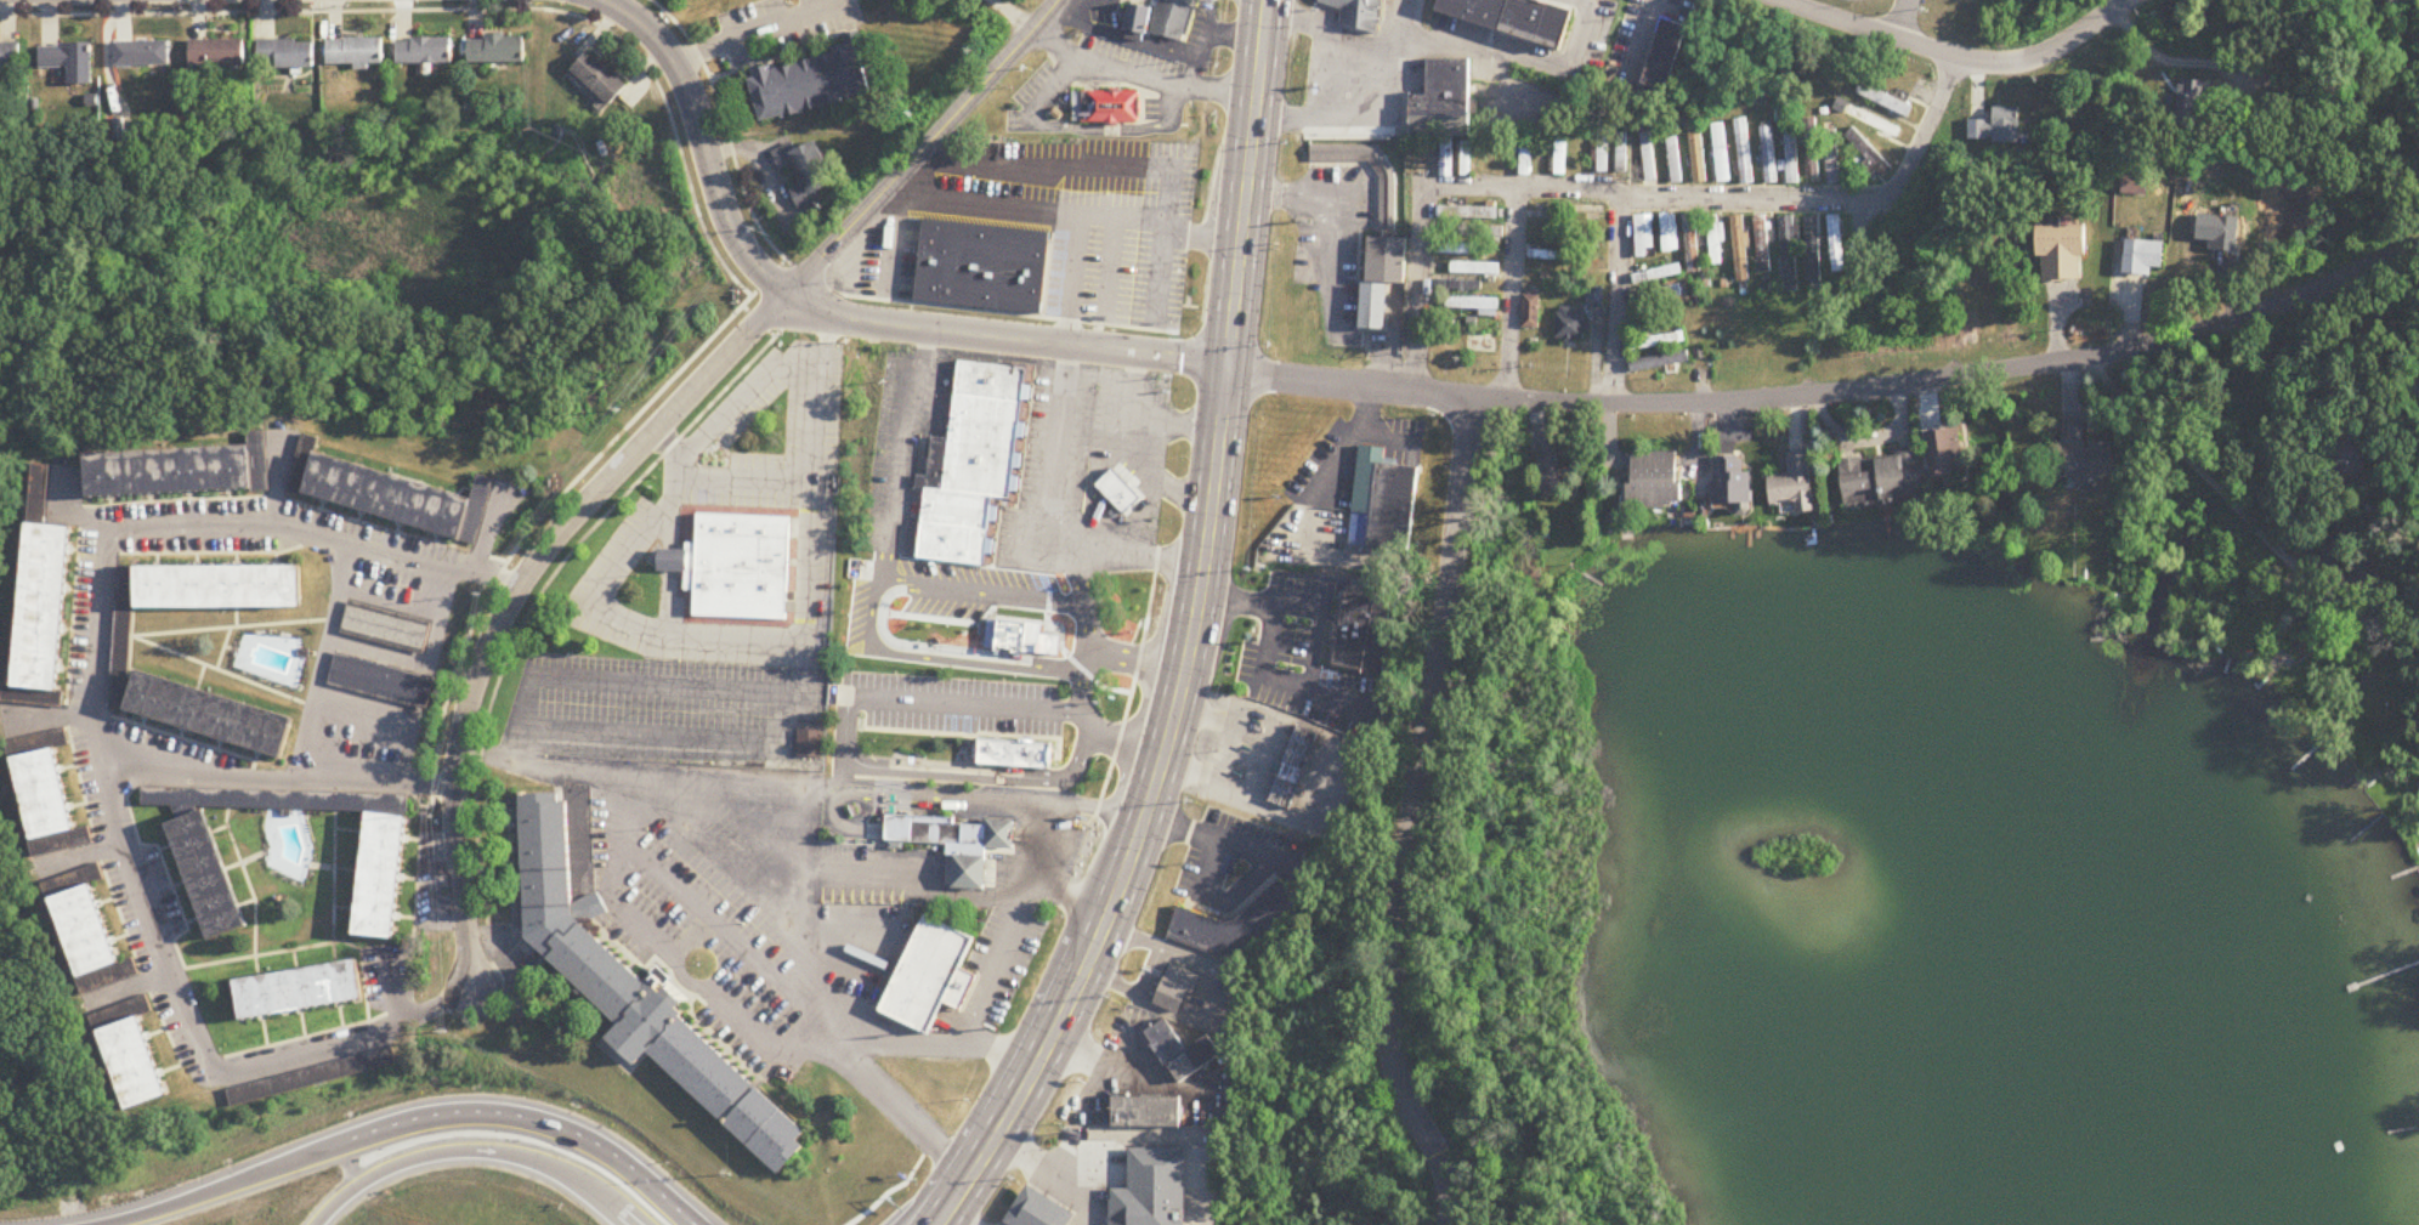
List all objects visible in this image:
road: (460, 10)
building: (1358, 12)
building: (1514, 18)
road: (1900, 19)
building: (1163, 21)
road: (760, 30)
road: (1331, 34)
road: (1216, 44)
building: (495, 51)
building: (355, 53)
building: (424, 53)
building: (142, 55)
building: (217, 55)
building: (287, 56)
road: (1525, 56)
building: (1667, 56)
building: (9, 58)
road: (1958, 58)
building: (1621, 61)
building: (68, 62)
road: (1139, 73)
building: (599, 79)
building: (814, 84)
road: (1048, 87)
building: (1444, 101)
building: (1885, 101)
building: (2192, 102)
building: (1106, 108)
road: (1378, 118)
building: (1869, 120)
building: (1995, 127)
road: (1117, 130)
road: (703, 138)
road: (922, 146)
building: (1603, 148)
building: (1812, 151)
building: (1584, 152)
building: (1744, 152)
building: (1622, 153)
building: (1721, 153)
building: (1868, 153)
building: (1698, 154)
building: (1768, 155)
building: (1791, 155)
building: (1560, 157)
building: (1648, 157)
building: (1525, 158)
building: (1445, 160)
building: (1466, 160)
building: (1673, 160)
road: (1066, 163)
building: (806, 174)
road: (1245, 183)
building: (2135, 187)
road: (1733, 198)
building: (1386, 203)
road: (1063, 210)
building: (1588, 212)
building: (1467, 214)
road: (1331, 226)
building: (1475, 232)
building: (1669, 233)
building: (2220, 234)
building: (1643, 236)
building: (1584, 239)
road: (891, 240)
building: (1715, 240)
building: (1690, 243)
building: (1836, 244)
building: (1762, 245)
building: (1739, 249)
building: (1456, 250)
building: (1813, 250)
building: (2062, 253)
building: (1790, 255)
building: (1543, 256)
building: (1382, 257)
building: (2145, 260)
road: (1107, 262)
building: (980, 265)
building: (1585, 267)
building: (1475, 270)
road: (1158, 272)
road: (1046, 274)
building: (1656, 276)
road: (1075, 279)
building: (1465, 287)
road: (828, 289)
road: (1418, 290)
road: (1511, 295)
building: (1656, 296)
building: (1594, 299)
road: (1616, 300)
building: (1371, 305)
building: (1475, 307)
building: (1531, 313)
road: (759, 322)
building: (1573, 325)
road: (1005, 338)
building: (1656, 342)
building: (1660, 362)
building: (991, 380)
road: (1832, 393)
building: (2413, 393)
road: (1144, 418)
building: (986, 421)
road: (2151, 421)
road: (669, 442)
road: (903, 454)
building: (1945, 454)
building: (2085, 458)
building: (1547, 459)
building: (2350, 463)
building: (970, 467)
road: (1152, 471)
building: (182, 472)
road: (279, 476)
road: (742, 477)
building: (1656, 477)
building: (1882, 477)
building: (1733, 480)
building: (1795, 482)
building: (43, 488)
road: (2220, 489)
building: (1120, 492)
building: (398, 499)
building: (1384, 503)
road: (556, 505)
building: (958, 509)
road: (66, 515)
road: (670, 524)
road: (1039, 526)
road: (491, 528)
building: (953, 543)
road: (634, 549)
building: (669, 558)
building: (2332, 558)
road: (668, 560)
road: (2288, 561)
building: (736, 565)
road: (1080, 574)
road: (554, 579)
road: (930, 588)
road: (515, 595)
road: (1031, 599)
road: (101, 600)
road: (667, 601)
road: (1303, 605)
building: (44, 611)
building: (2384, 624)
building: (386, 625)
building: (990, 625)
road: (233, 628)
road: (1093, 630)
building: (1020, 631)
building: (1364, 631)
road: (913, 636)
building: (120, 637)
road: (223, 650)
road: (1048, 651)
road: (325, 660)
road: (1144, 664)
road: (222, 671)
road: (801, 679)
building: (381, 680)
road: (1088, 684)
road: (66, 692)
road: (944, 703)
road: (46, 715)
building: (361, 730)
road: (674, 735)
road: (1128, 737)
building: (809, 742)
building: (1303, 748)
road: (1228, 750)
building: (1016, 753)
building: (1293, 773)
road: (981, 776)
road: (274, 779)
road: (765, 793)
building: (1286, 793)
road: (413, 795)
building: (47, 803)
road: (1143, 817)
road: (1415, 817)
building: (958, 843)
road: (81, 856)
road: (1269, 861)
building: (206, 874)
building: (383, 874)
road: (884, 877)
road: (418, 878)
road: (687, 890)
road: (766, 894)
road: (1064, 898)
building: (1237, 925)
building: (90, 940)
road: (758, 955)
flagpole: (701, 963)
road: (995, 963)
road: (185, 968)
building: (933, 976)
road: (491, 979)
road: (401, 985)
building: (1178, 987)
road: (129, 989)
building: (301, 989)
building: (636, 989)
road: (741, 1017)
flagpole: (937, 1031)
road: (347, 1042)
building: (1184, 1053)
building: (136, 1064)
building: (1148, 1113)
road: (1133, 1136)
road: (368, 1139)
road: (481, 1147)
road: (902, 1186)
building: (1154, 1190)
road: (936, 1196)
road: (1081, 1196)
road: (658, 1208)
road: (663, 1208)
building: (1041, 1210)
road: (948, 1220)

